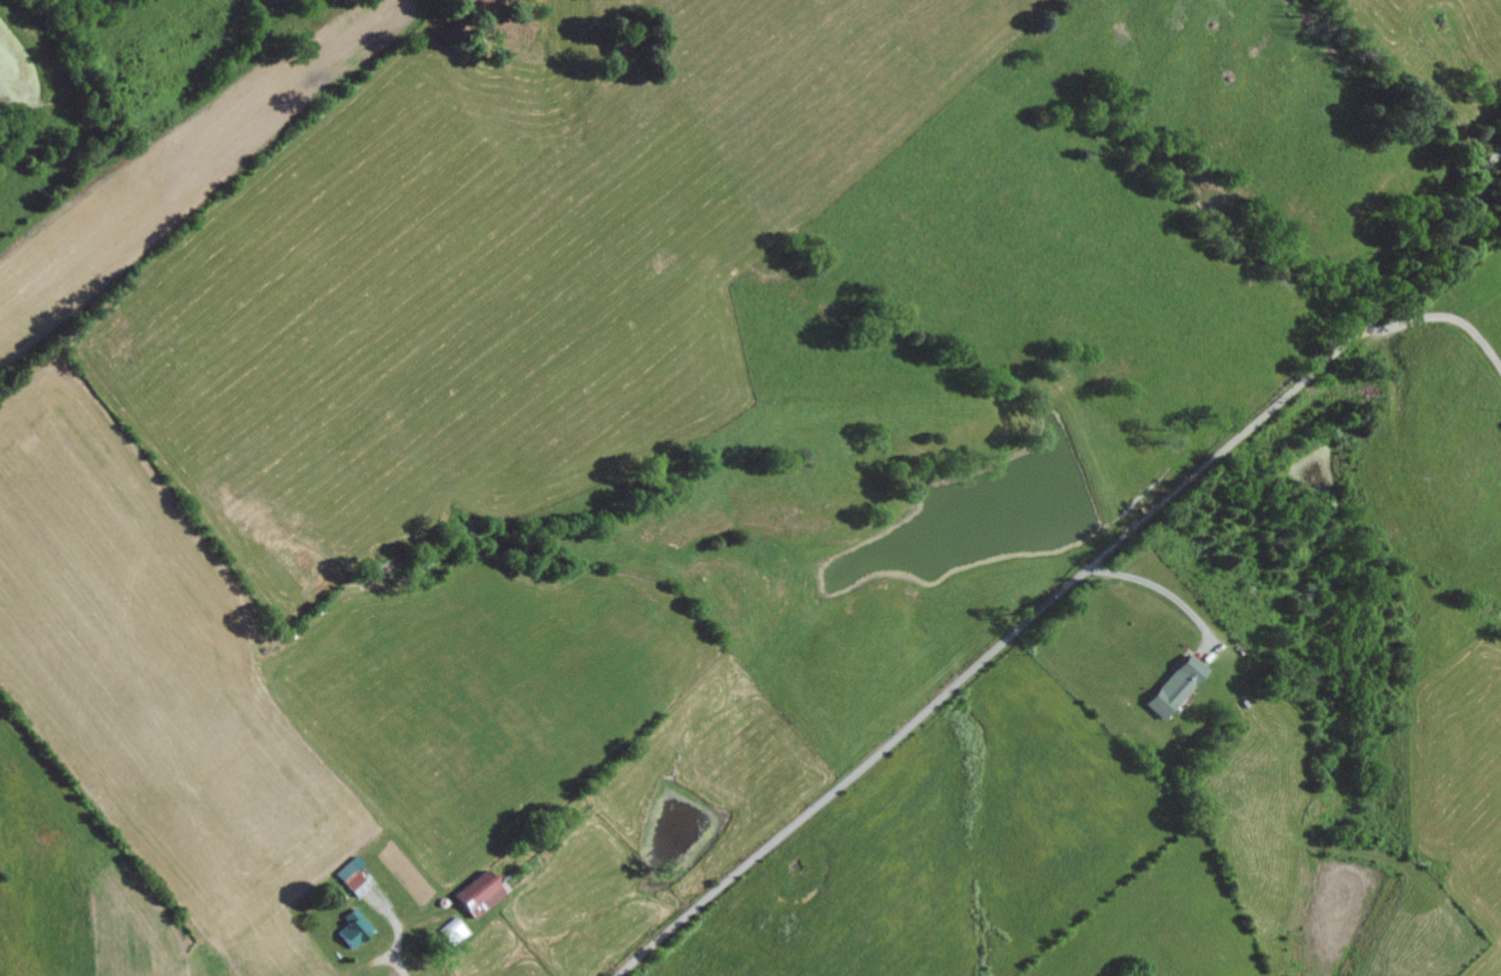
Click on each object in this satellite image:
road: (1481, 185)
road: (1444, 313)
road: (1162, 587)
road: (1062, 593)
building: (1177, 683)
building: (354, 875)
building: (483, 889)
road: (398, 931)

